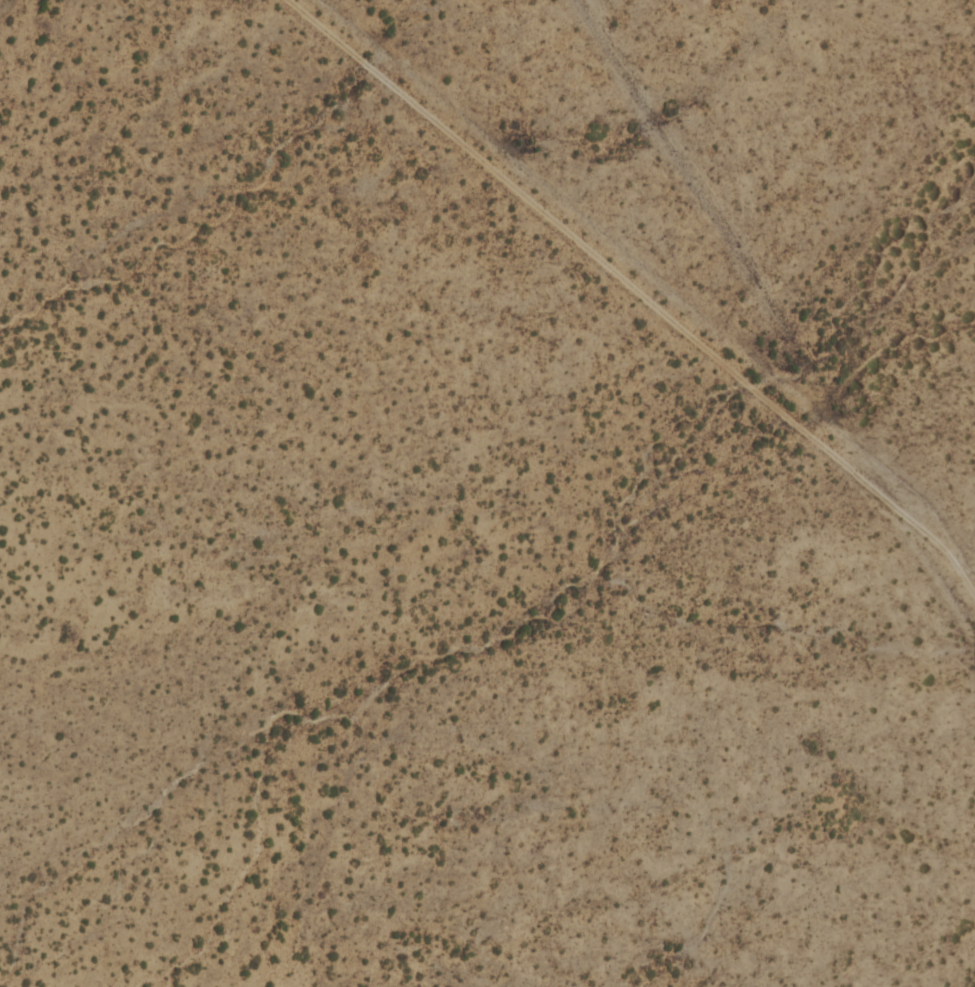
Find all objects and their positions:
road: (795, 185)

